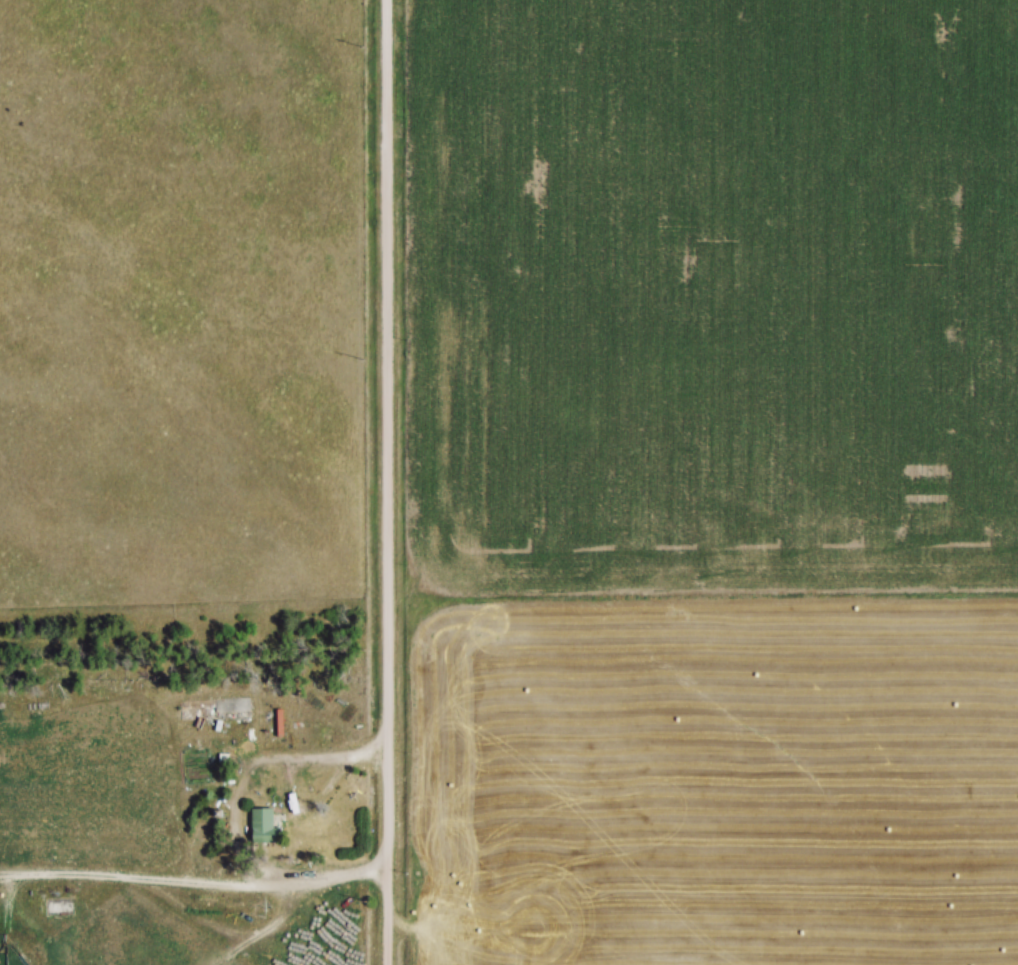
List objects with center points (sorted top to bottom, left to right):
road: (388, 482)
building: (212, 712)
road: (252, 758)
building: (259, 826)
road: (195, 880)

